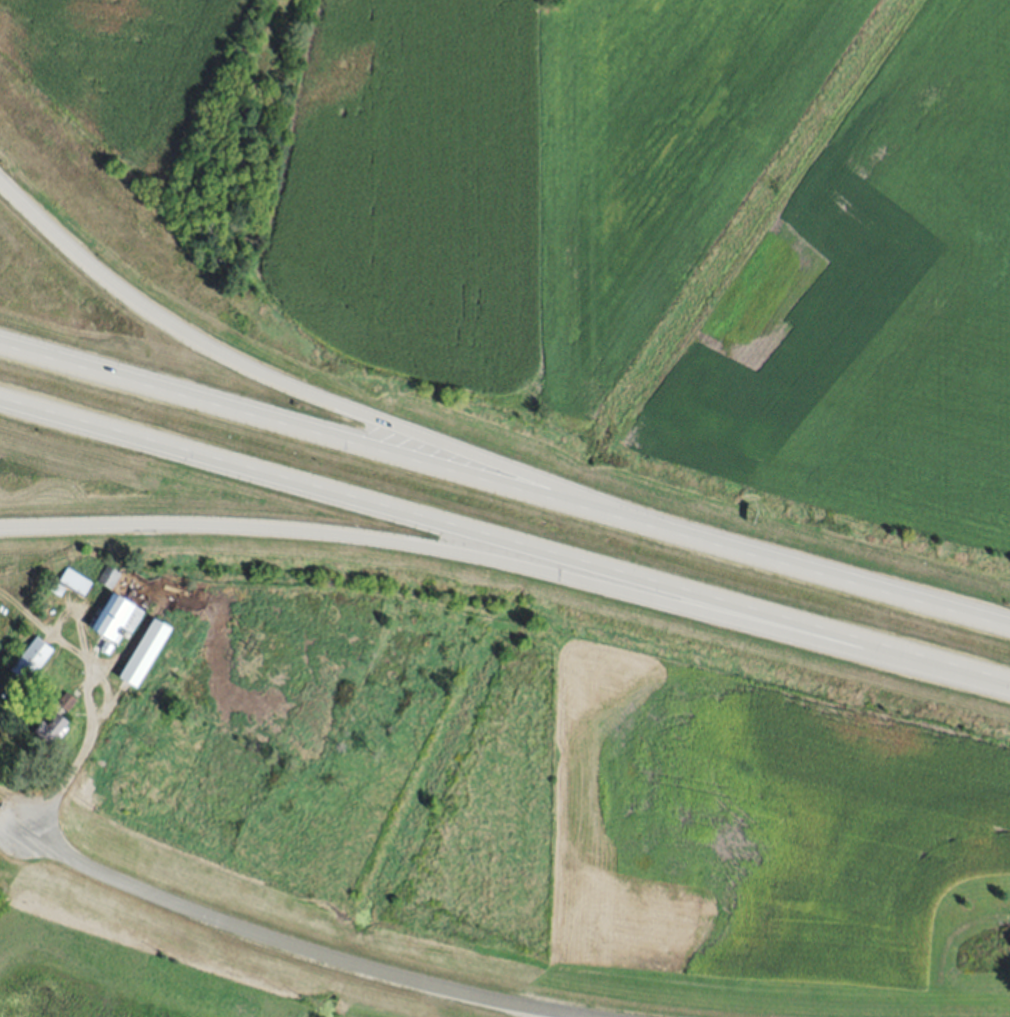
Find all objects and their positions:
airport runway: (712, 210)
road: (314, 395)
road: (505, 485)
road: (505, 548)
road: (511, 564)
building: (108, 576)
building: (75, 581)
building: (117, 617)
building: (144, 652)
building: (31, 659)
building: (67, 701)
building: (51, 725)
road: (74, 768)
road: (307, 949)
road: (553, 1013)

